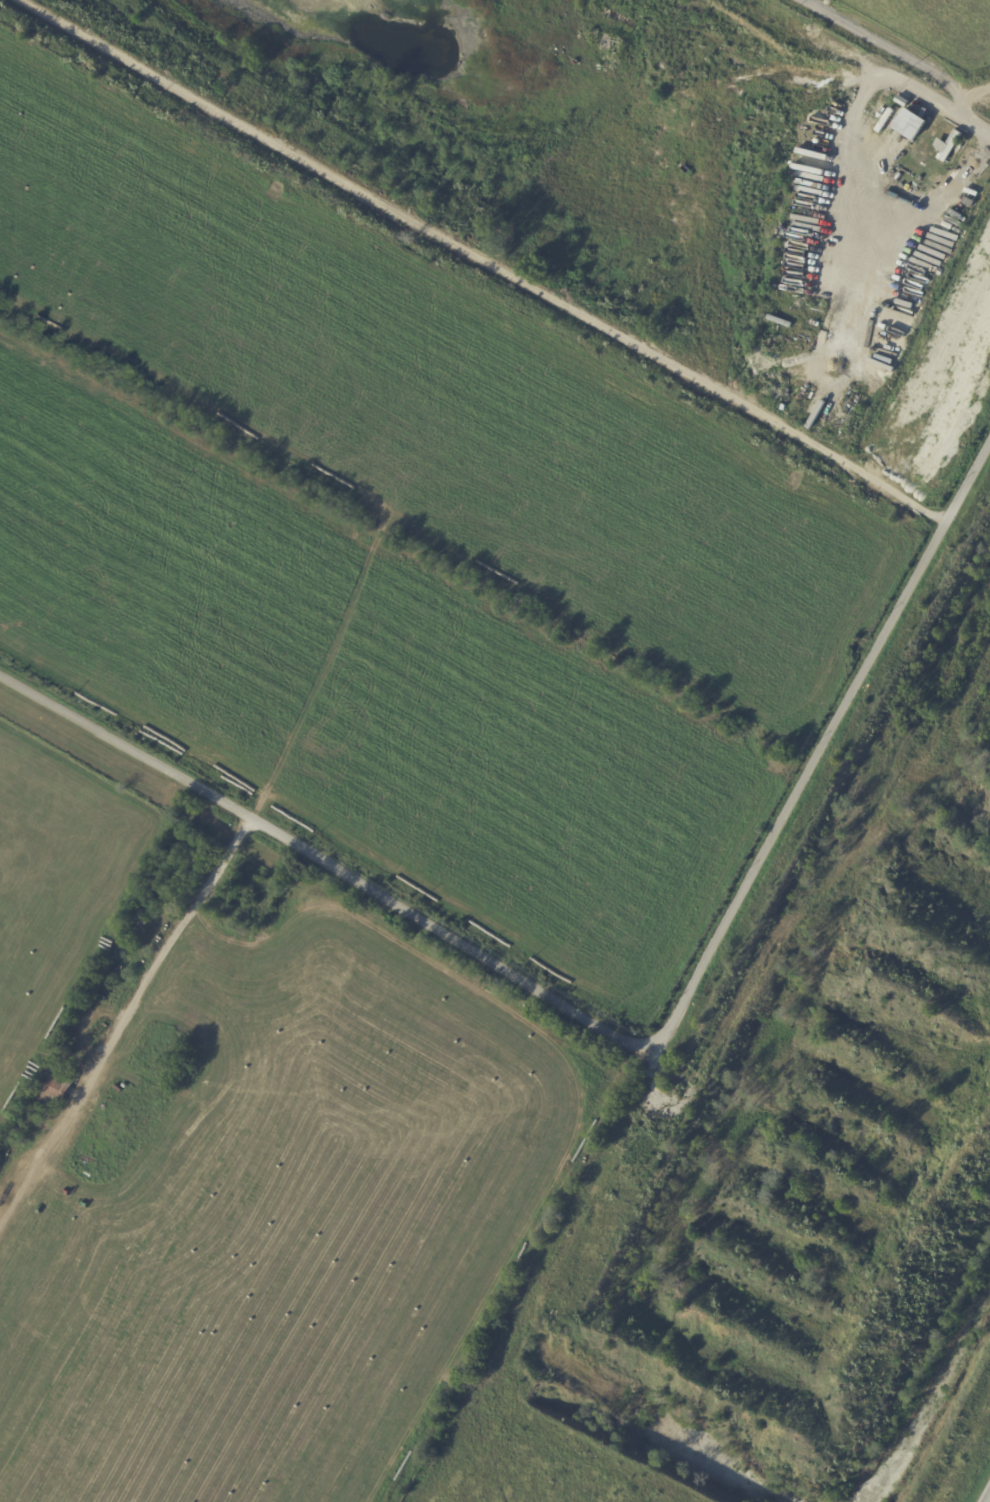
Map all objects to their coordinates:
road: (873, 66)
road: (963, 92)
building: (903, 101)
building: (909, 123)
building: (946, 144)
road: (873, 207)
road: (484, 258)
crop: (365, 779)
road: (270, 782)
crop: (58, 899)
building: (141, 916)
road: (631, 1036)
building: (53, 1087)

